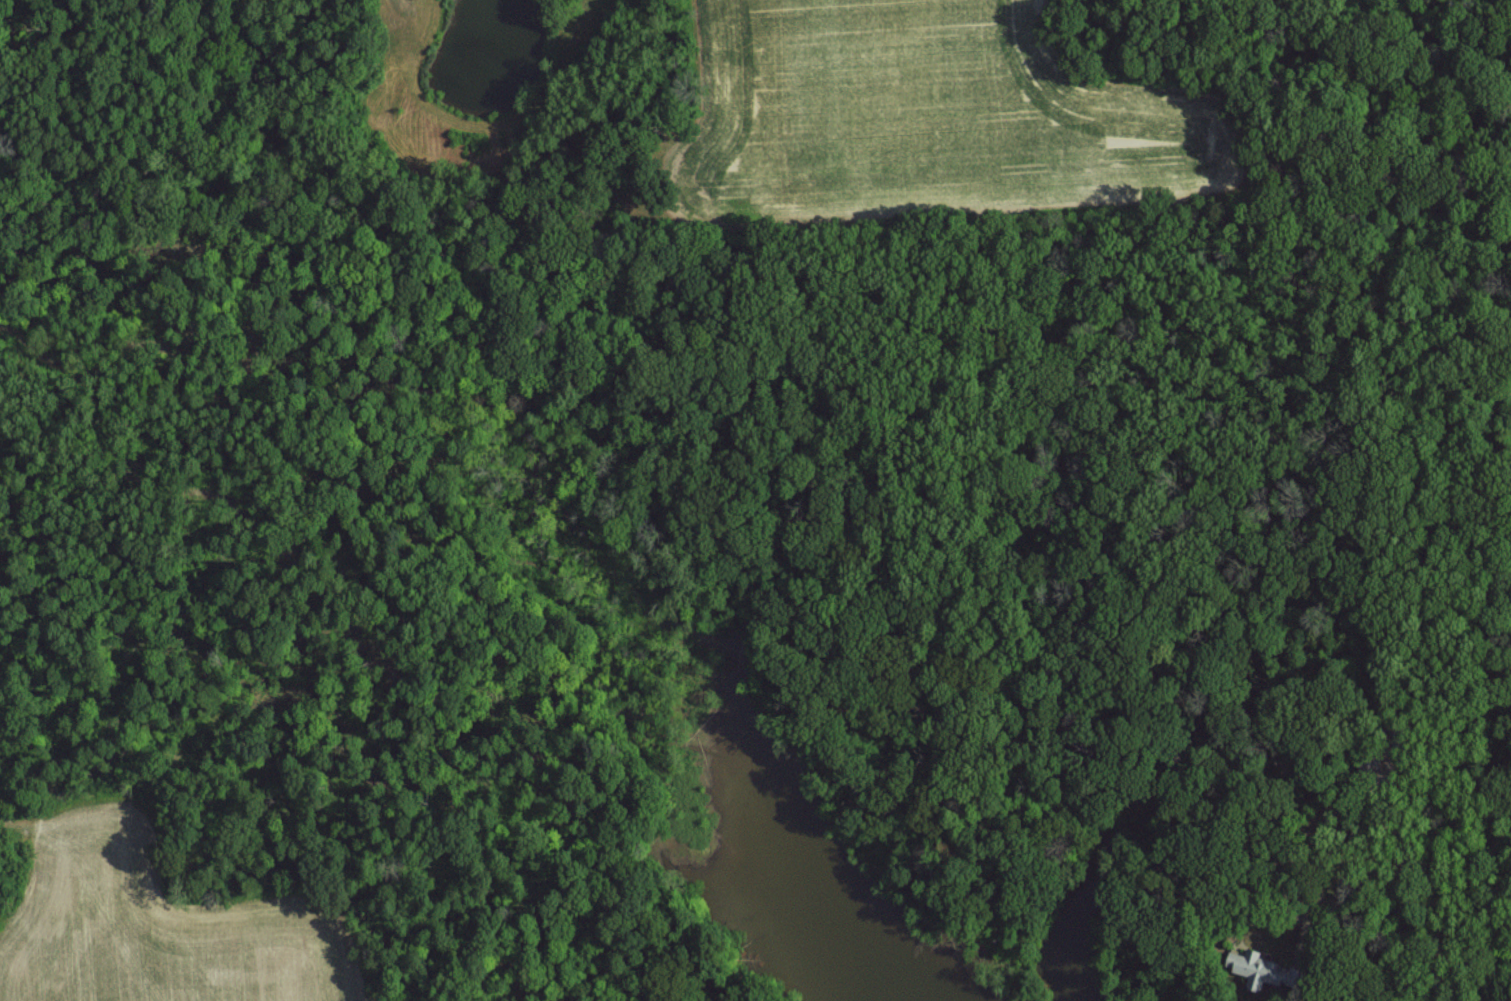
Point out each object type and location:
building: (1261, 970)
road: (1439, 994)

